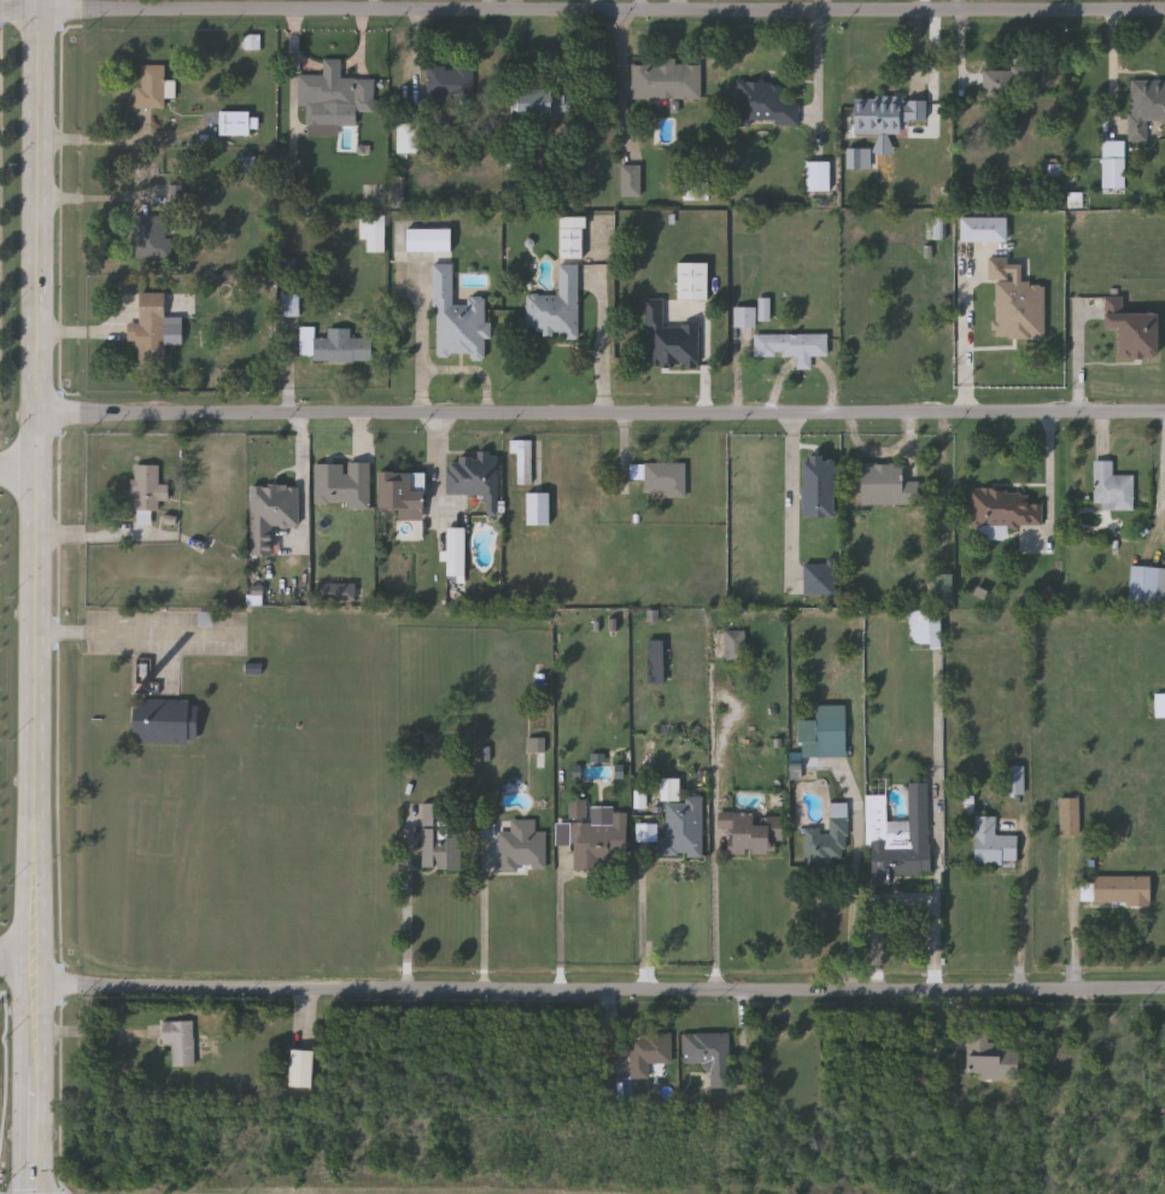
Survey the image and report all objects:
road: (926, 4)
road: (515, 5)
road: (602, 5)
road: (644, 5)
road: (822, 5)
road: (19, 8)
road: (602, 11)
building: (668, 78)
building: (452, 82)
building: (1009, 83)
building: (154, 86)
building: (336, 95)
building: (545, 101)
building: (765, 103)
building: (1144, 105)
building: (888, 113)
building: (241, 123)
road: (113, 137)
building: (412, 137)
building: (860, 158)
building: (252, 164)
building: (1114, 164)
building: (1052, 168)
building: (820, 176)
building: (632, 180)
building: (300, 183)
building: (397, 189)
building: (698, 191)
building: (177, 194)
road: (95, 200)
building: (1077, 200)
building: (941, 228)
building: (984, 229)
building: (375, 232)
building: (156, 235)
building: (573, 238)
building: (432, 240)
building: (289, 265)
building: (693, 281)
building: (224, 288)
building: (292, 304)
building: (558, 306)
building: (766, 309)
building: (1018, 309)
building: (744, 316)
building: (461, 318)
building: (152, 326)
building: (1130, 328)
building: (672, 339)
building: (338, 345)
building: (791, 345)
road: (602, 411)
building: (522, 458)
road: (18, 469)
building: (473, 475)
building: (665, 478)
building: (885, 484)
building: (344, 485)
building: (816, 486)
building: (151, 487)
building: (1111, 487)
building: (399, 492)
building: (1002, 507)
building: (537, 508)
building: (273, 514)
building: (453, 550)
building: (818, 578)
building: (1147, 584)
building: (941, 587)
building: (336, 591)
road: (37, 596)
building: (924, 627)
road: (133, 632)
building: (733, 645)
building: (655, 661)
building: (538, 681)
building: (1159, 703)
building: (169, 720)
building: (830, 737)
building: (538, 745)
building: (1017, 780)
building: (579, 809)
building: (1069, 815)
building: (760, 819)
building: (683, 826)
road: (939, 835)
building: (898, 836)
building: (439, 838)
building: (827, 839)
building: (599, 843)
building: (991, 843)
building: (521, 847)
road: (722, 855)
road: (859, 877)
building: (1119, 889)
road: (909, 897)
road: (1024, 911)
road: (562, 919)
road: (644, 924)
road: (410, 925)
road: (487, 926)
road: (18, 952)
road: (601, 993)
building: (182, 1040)
building: (648, 1050)
building: (708, 1054)
building: (989, 1058)
building: (298, 1067)

